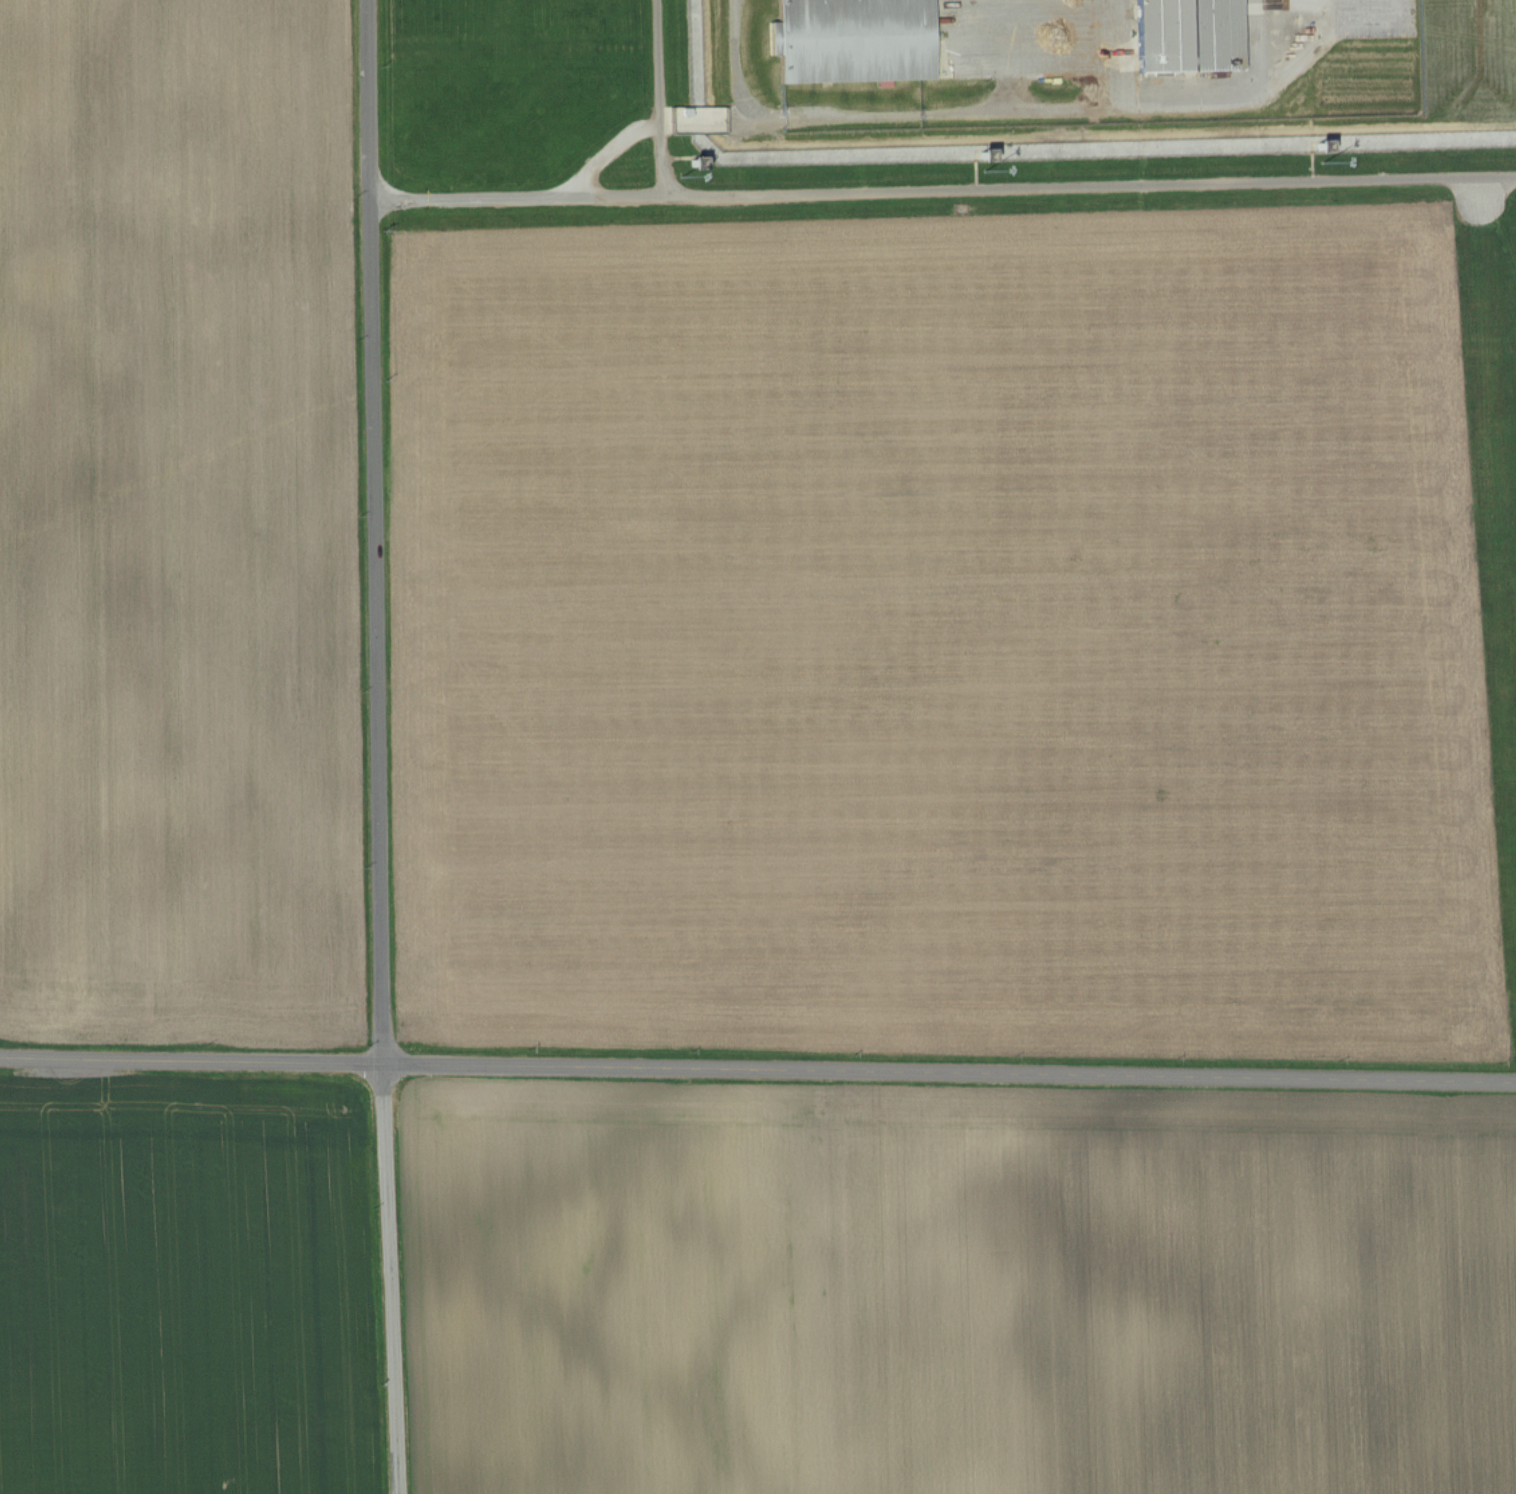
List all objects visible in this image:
building: (1191, 36)
building: (856, 41)
road: (997, 185)
road: (520, 192)
road: (378, 747)
road: (757, 1072)

